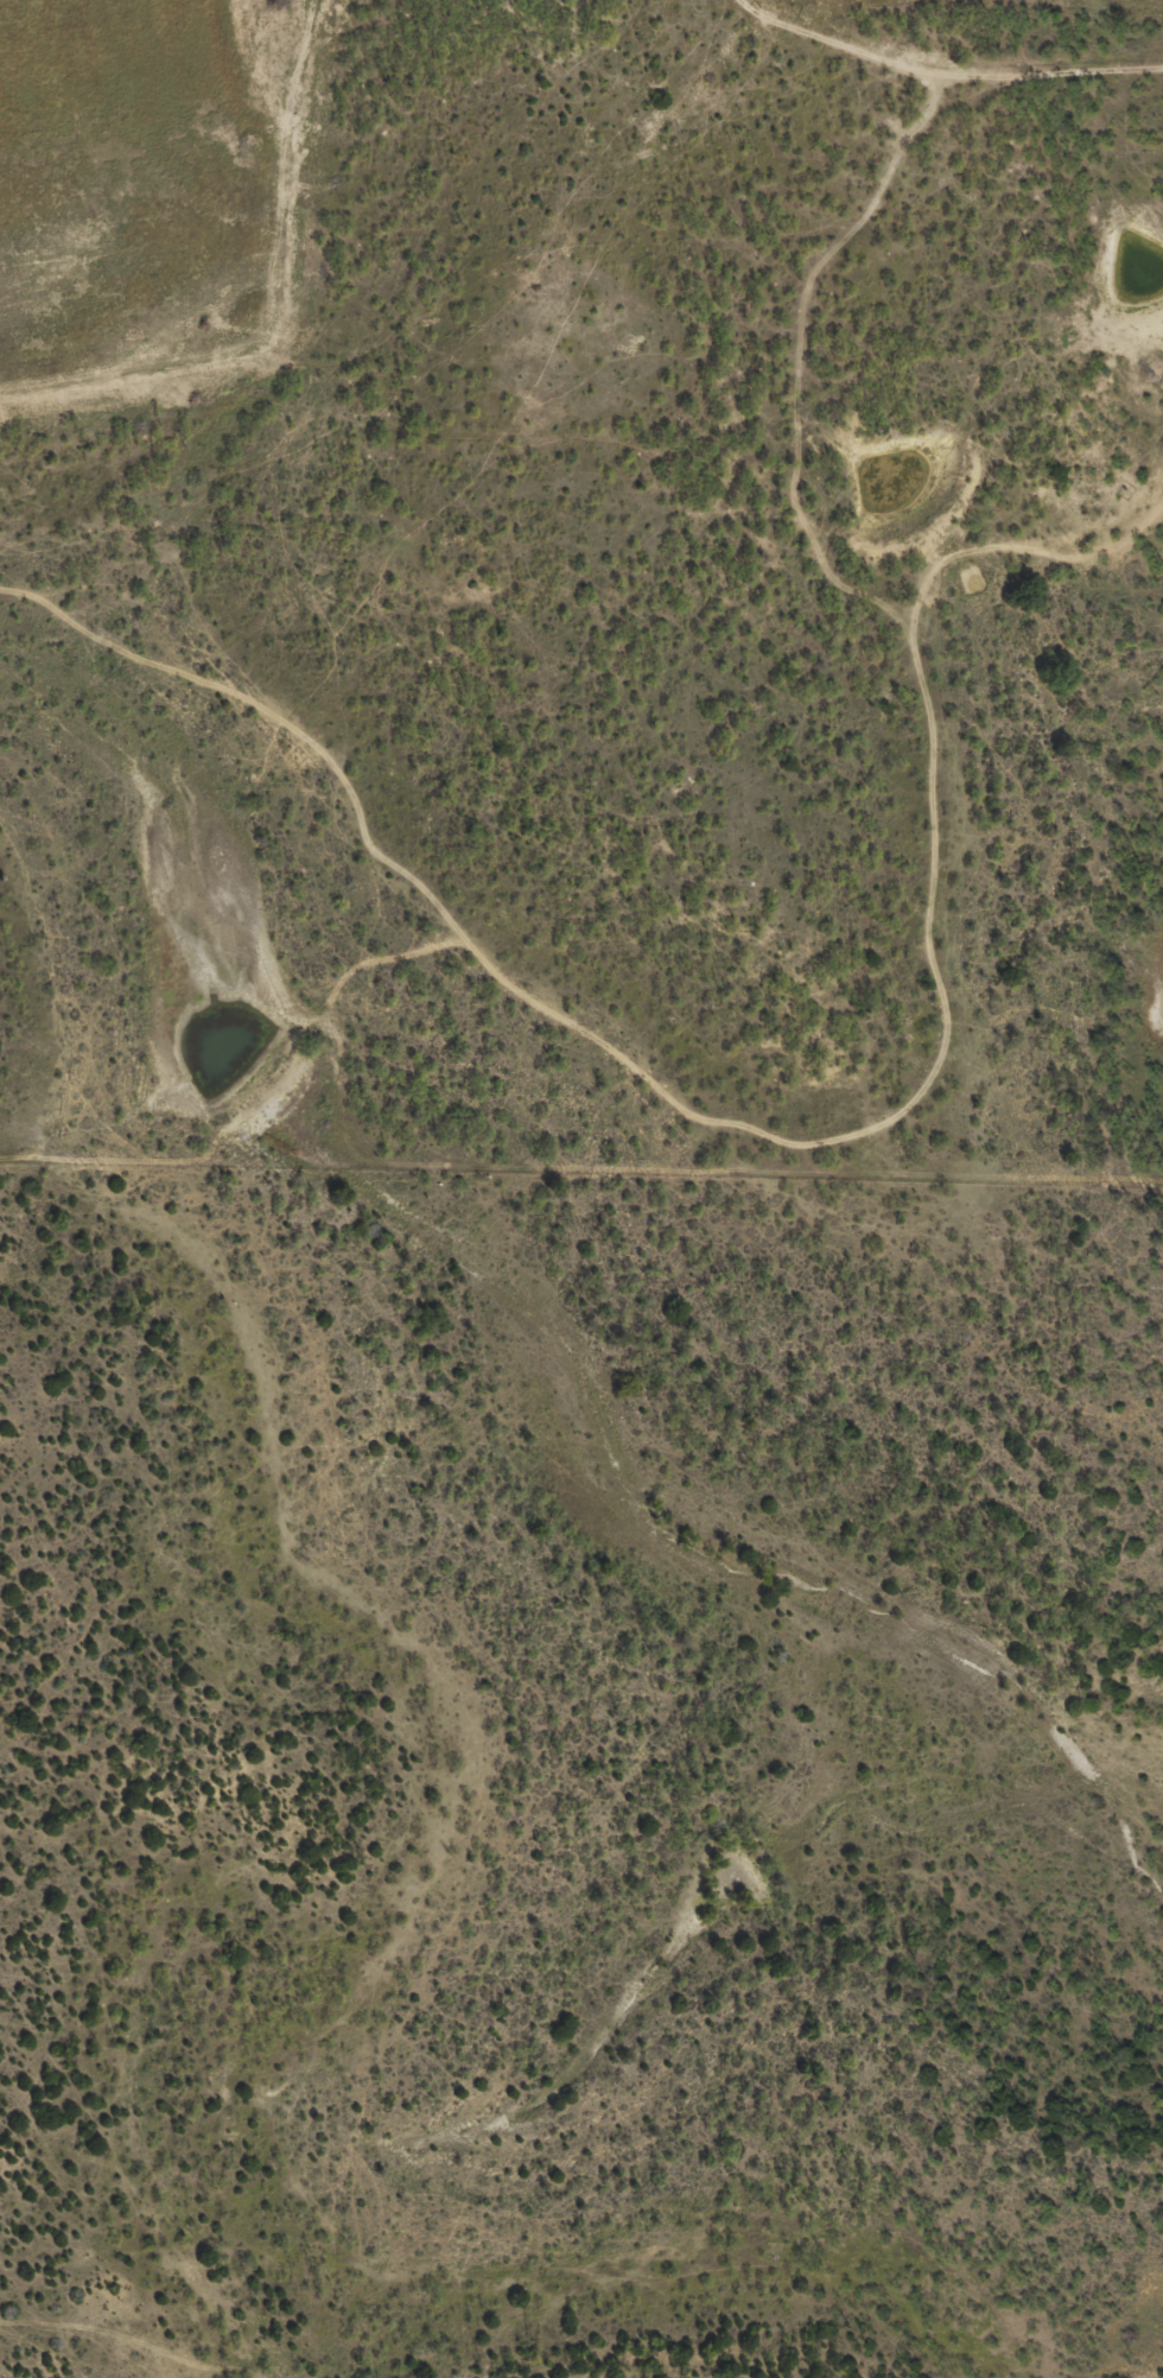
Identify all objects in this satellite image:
road: (946, 69)

